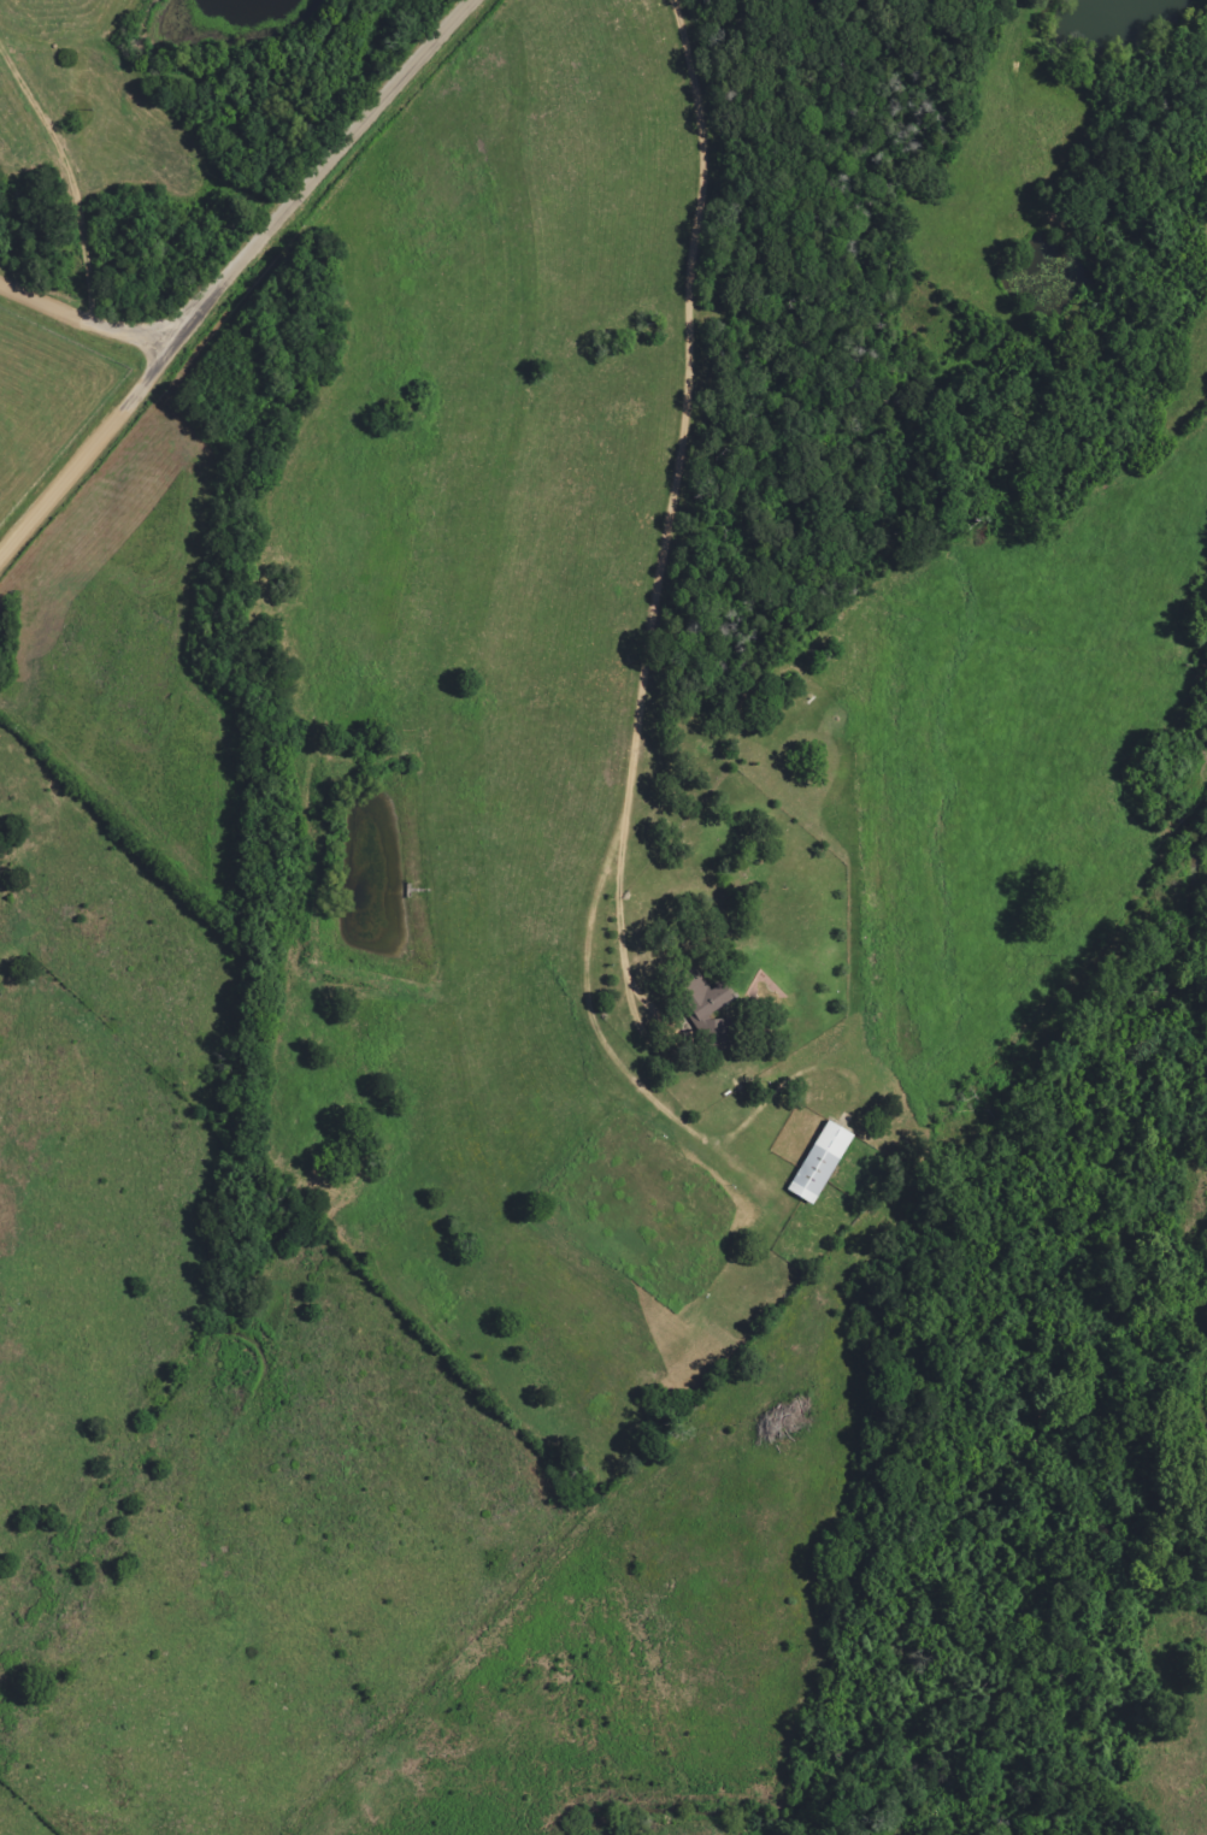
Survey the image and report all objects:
road: (967, 63)
road: (71, 166)
road: (230, 273)
road: (84, 320)
road: (673, 484)
building: (712, 997)
building: (824, 1162)

